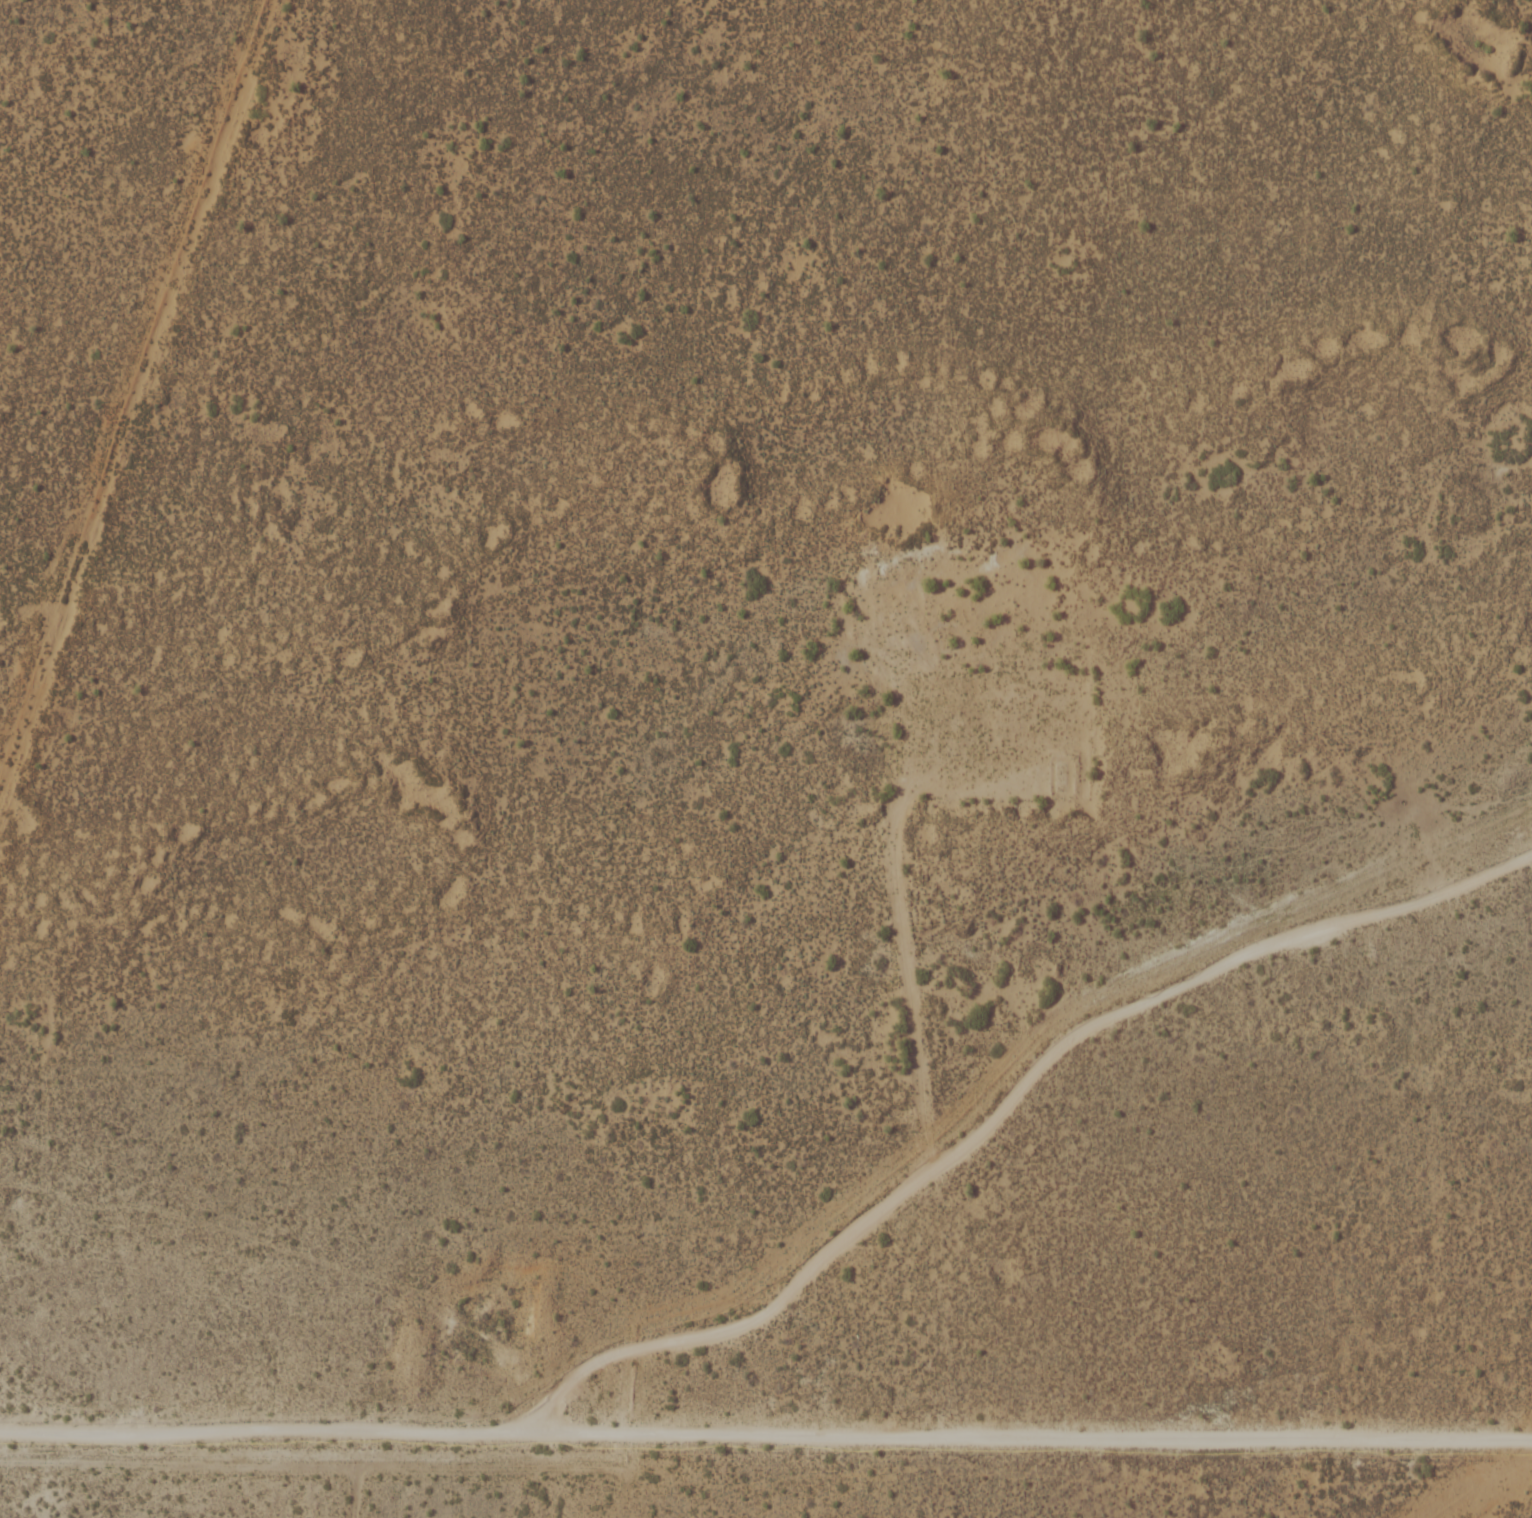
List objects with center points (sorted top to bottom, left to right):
road: (1012, 1101)
road: (765, 1428)

